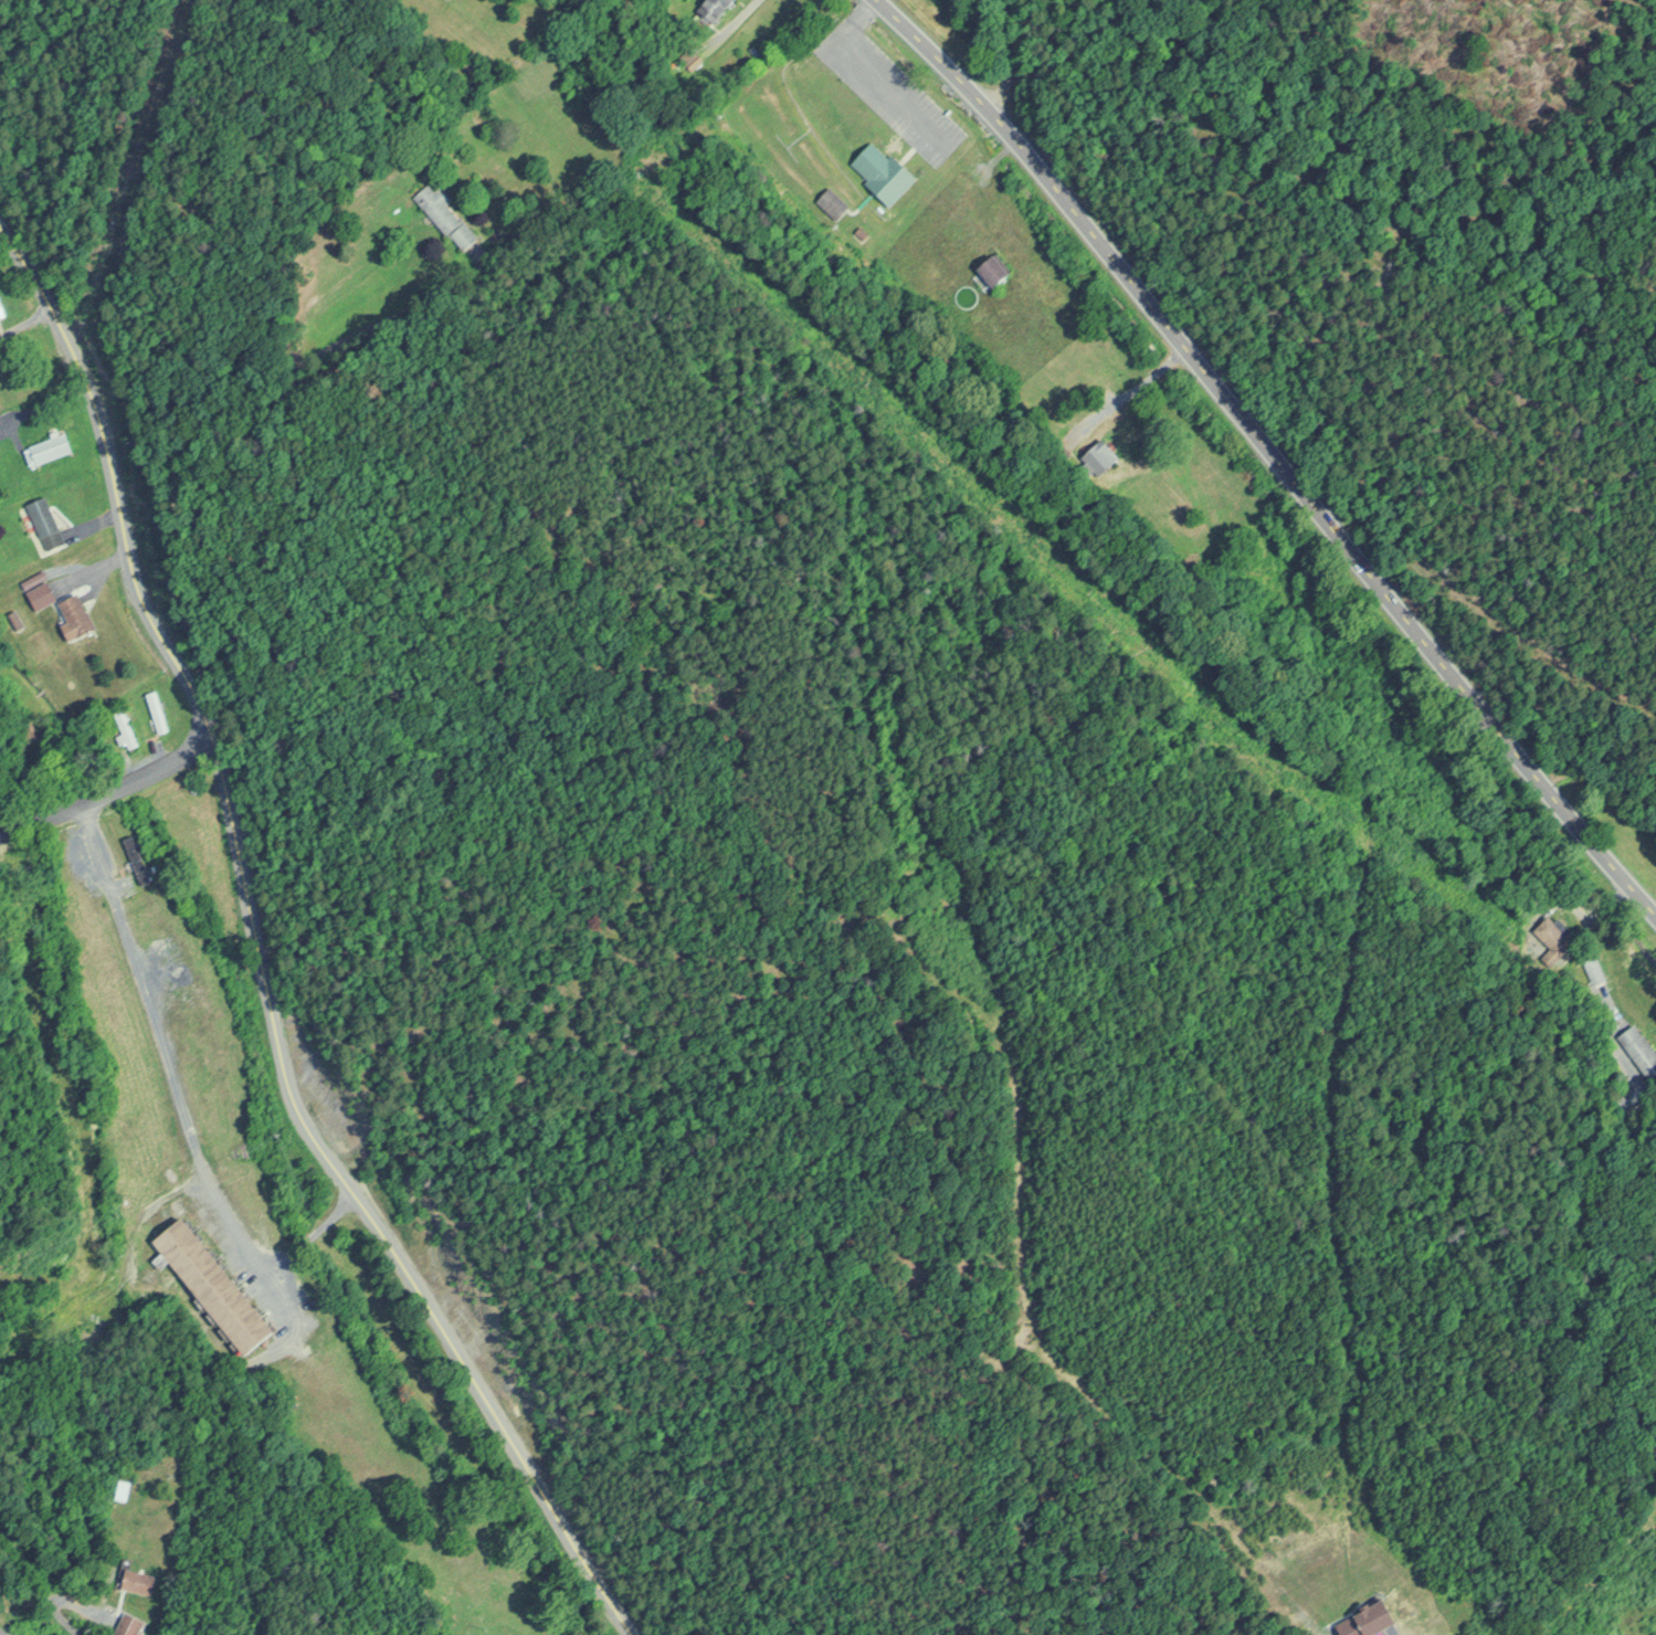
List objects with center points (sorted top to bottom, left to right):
building: (716, 8)
building: (882, 170)
building: (445, 214)
building: (996, 270)
building: (2, 312)
road: (204, 428)
building: (49, 449)
road: (1269, 456)
building: (1099, 457)
building: (46, 521)
building: (43, 593)
building: (77, 615)
building: (157, 710)
building: (124, 728)
road: (108, 789)
road: (253, 956)
building: (1638, 1049)
building: (214, 1284)
building: (123, 1489)
building: (140, 1581)
road: (46, 1589)
building: (1373, 1621)
building: (128, 1624)

